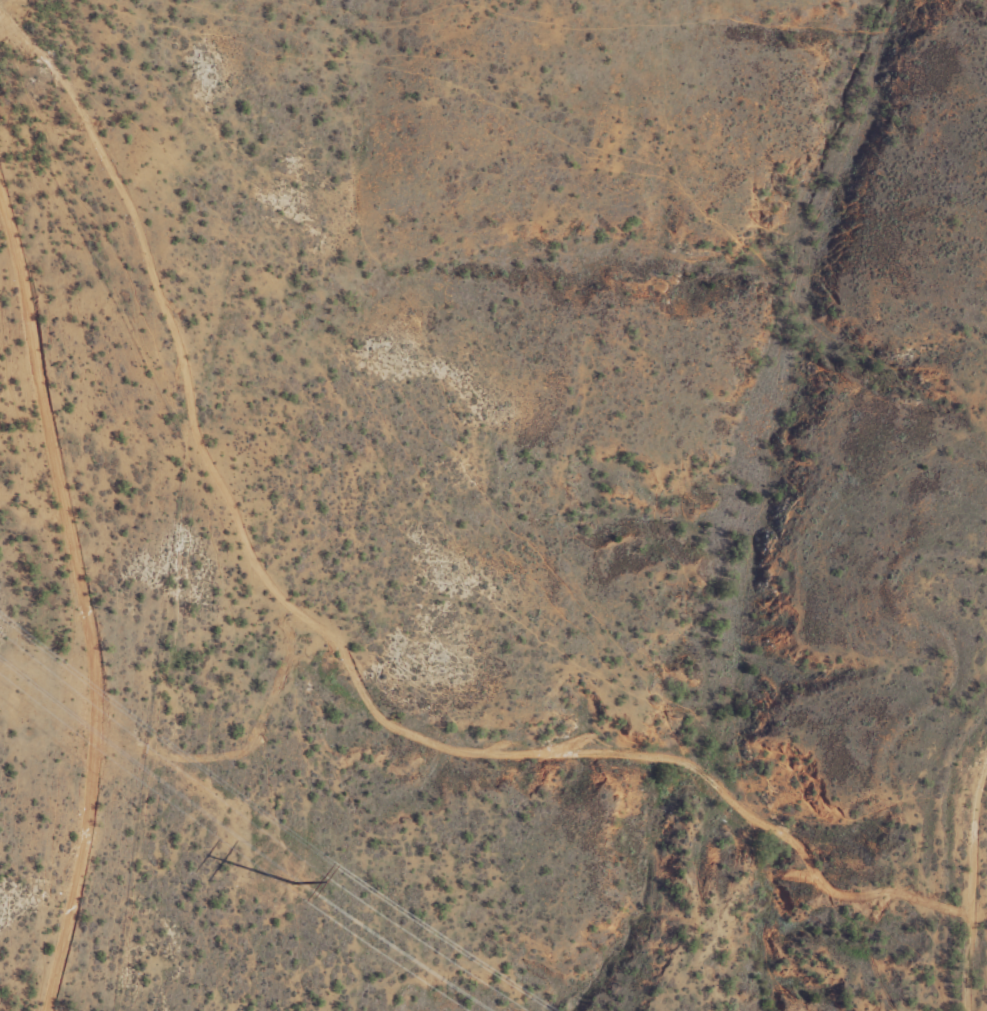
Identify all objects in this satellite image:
road: (84, 593)
power tower: (295, 882)

